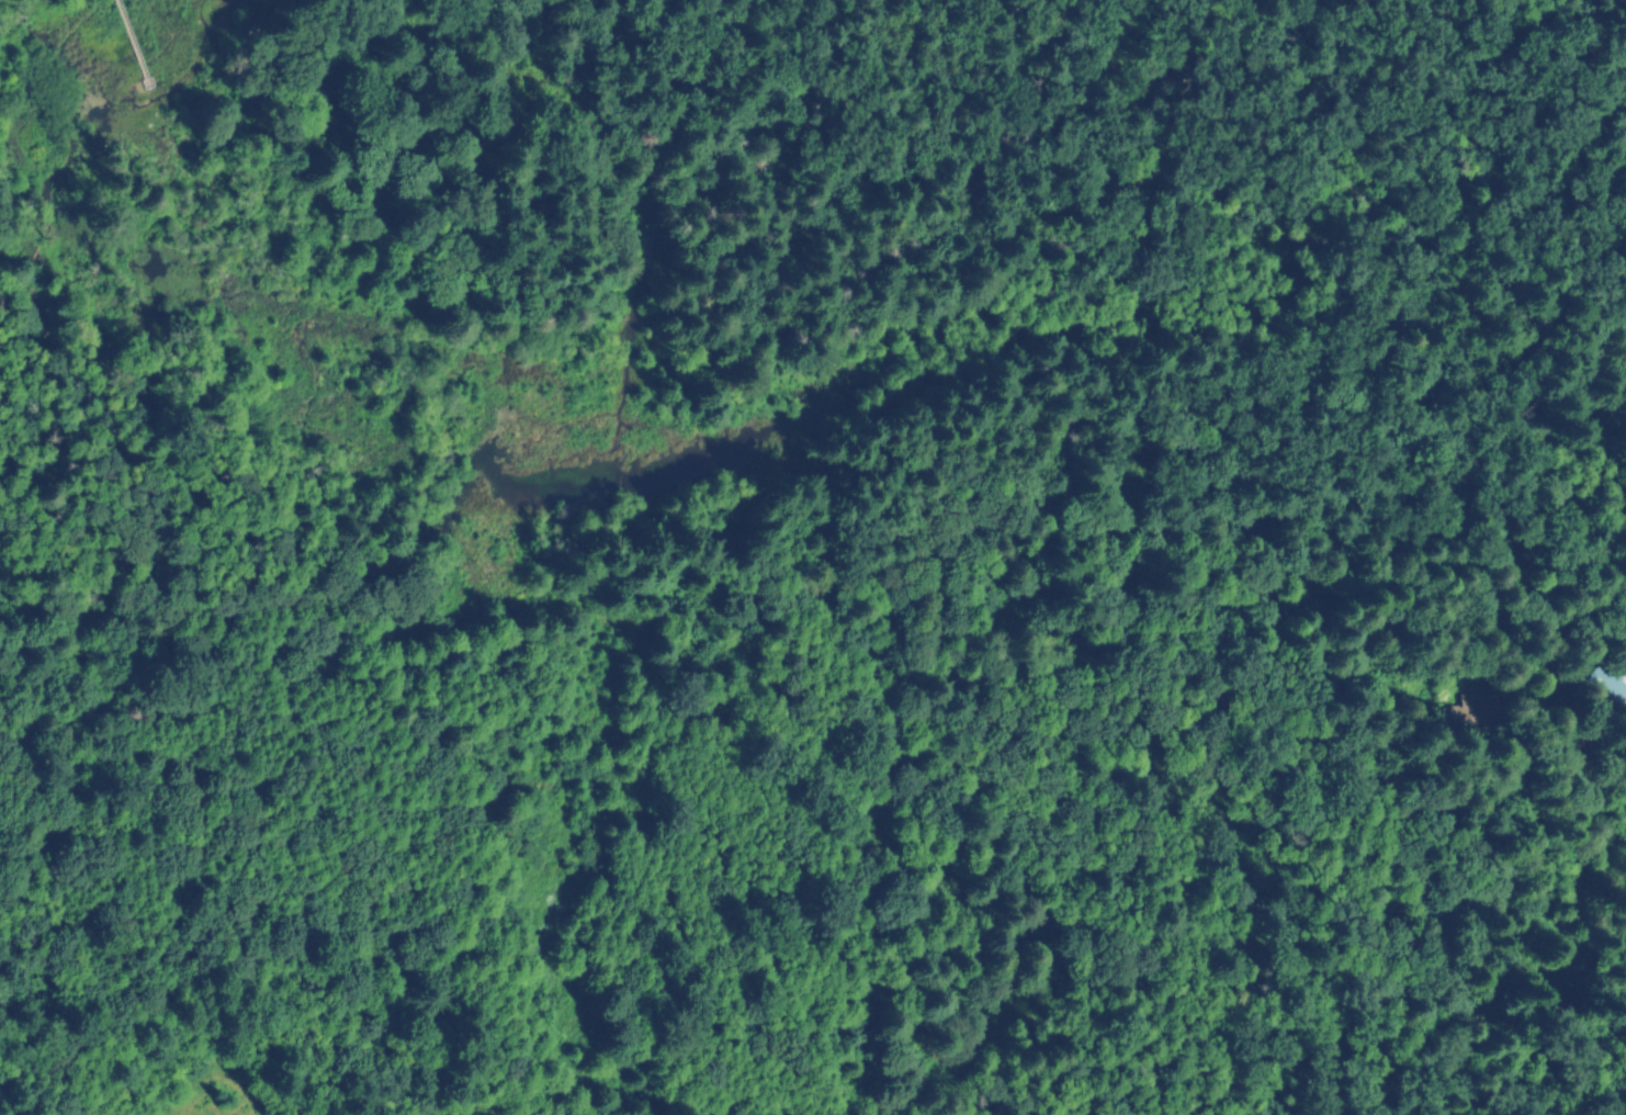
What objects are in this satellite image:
road: (129, 41)
building: (1482, 700)

